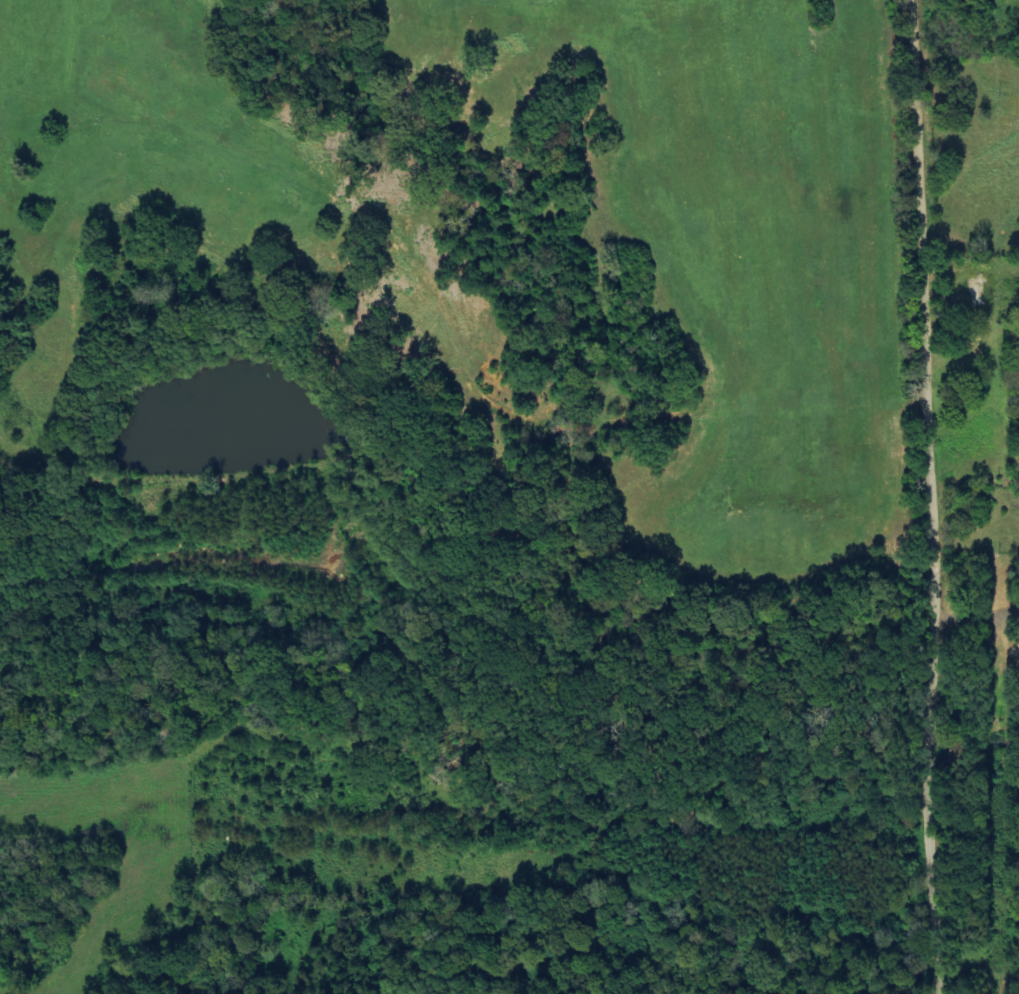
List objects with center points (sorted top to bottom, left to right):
road: (928, 497)

